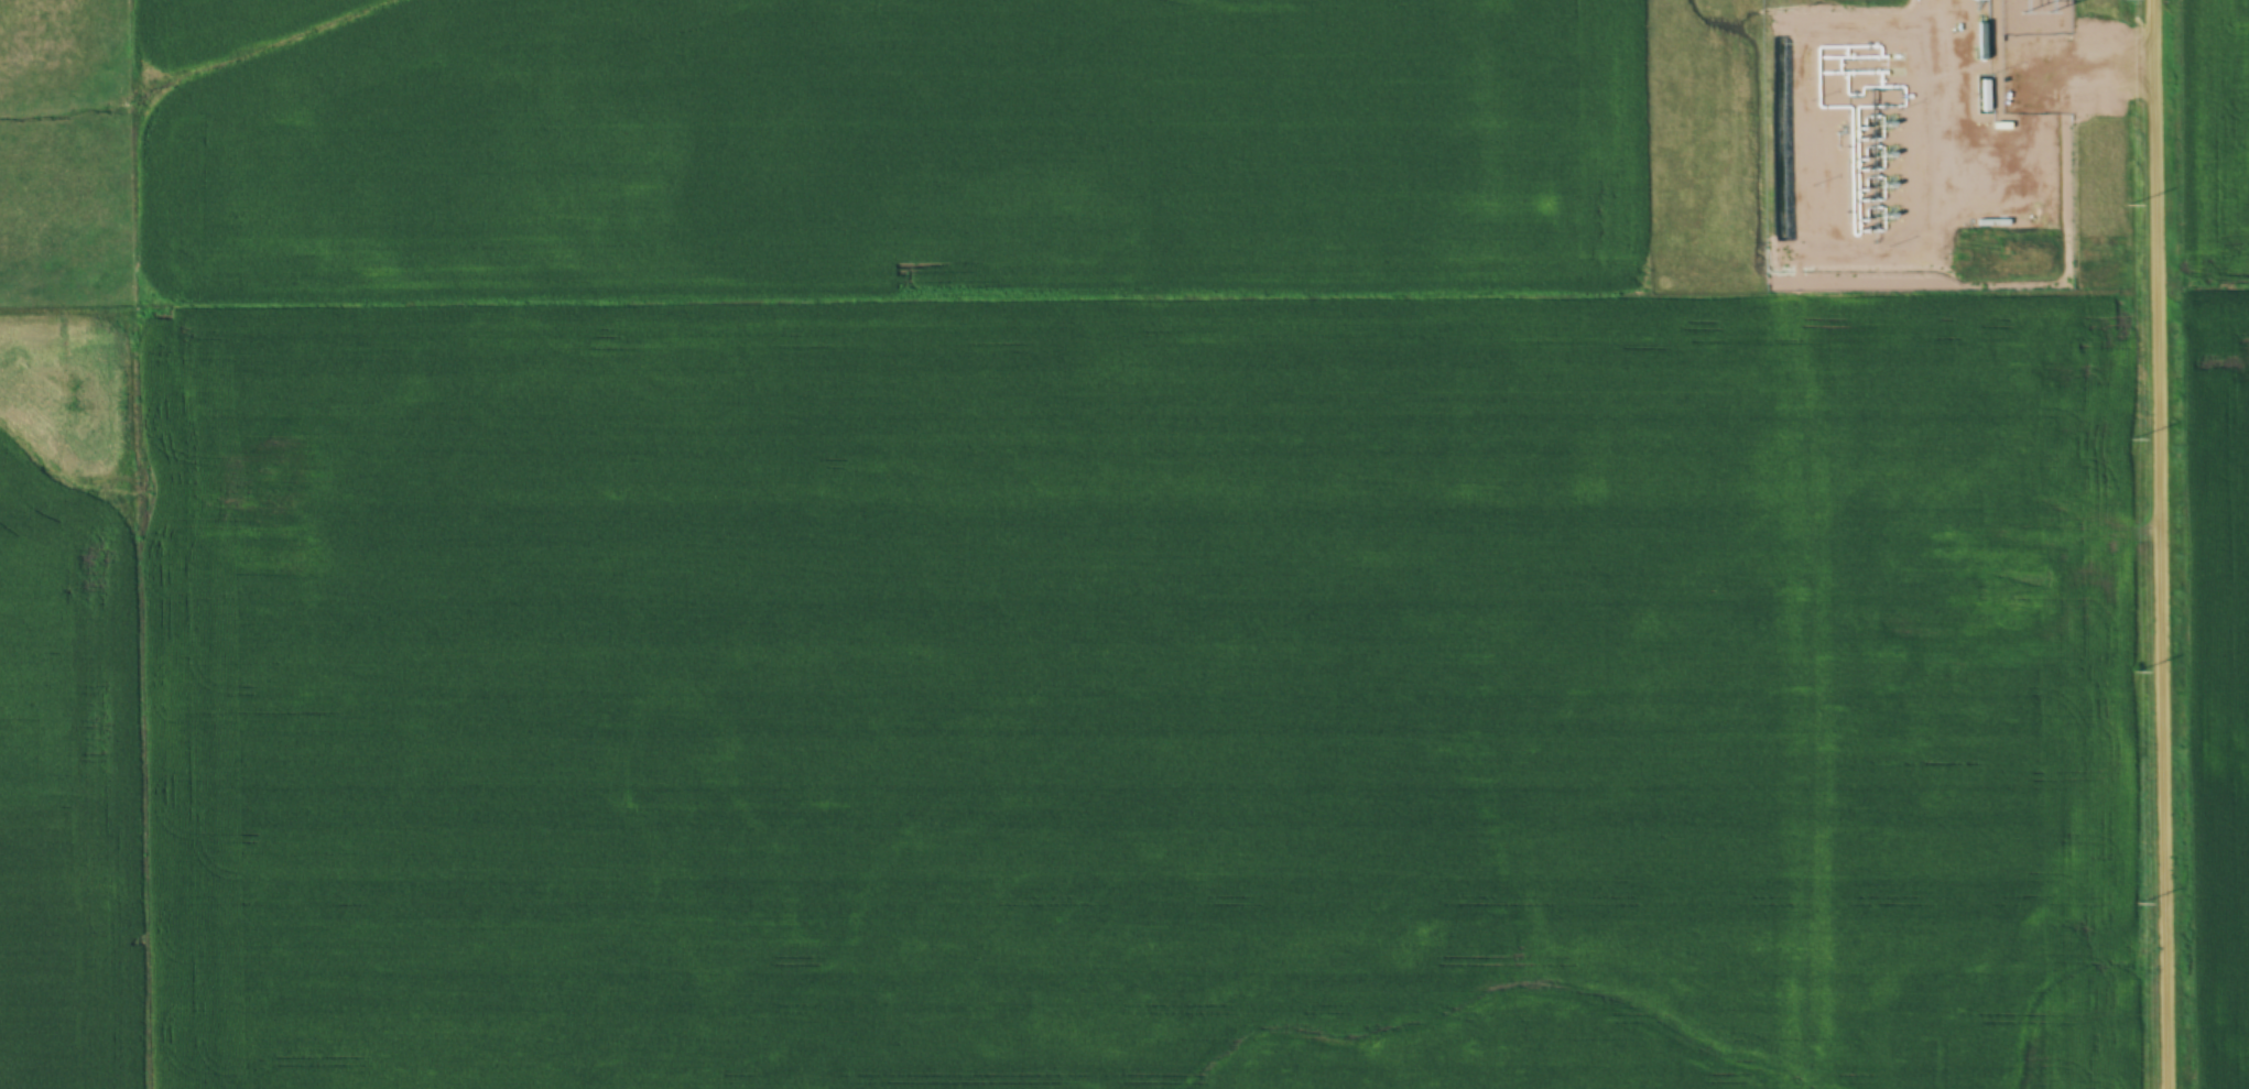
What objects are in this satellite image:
building: (1979, 0)
building: (1953, 18)
power substation: (2033, 18)
building: (1981, 42)
building: (1990, 224)
road: (2159, 544)

